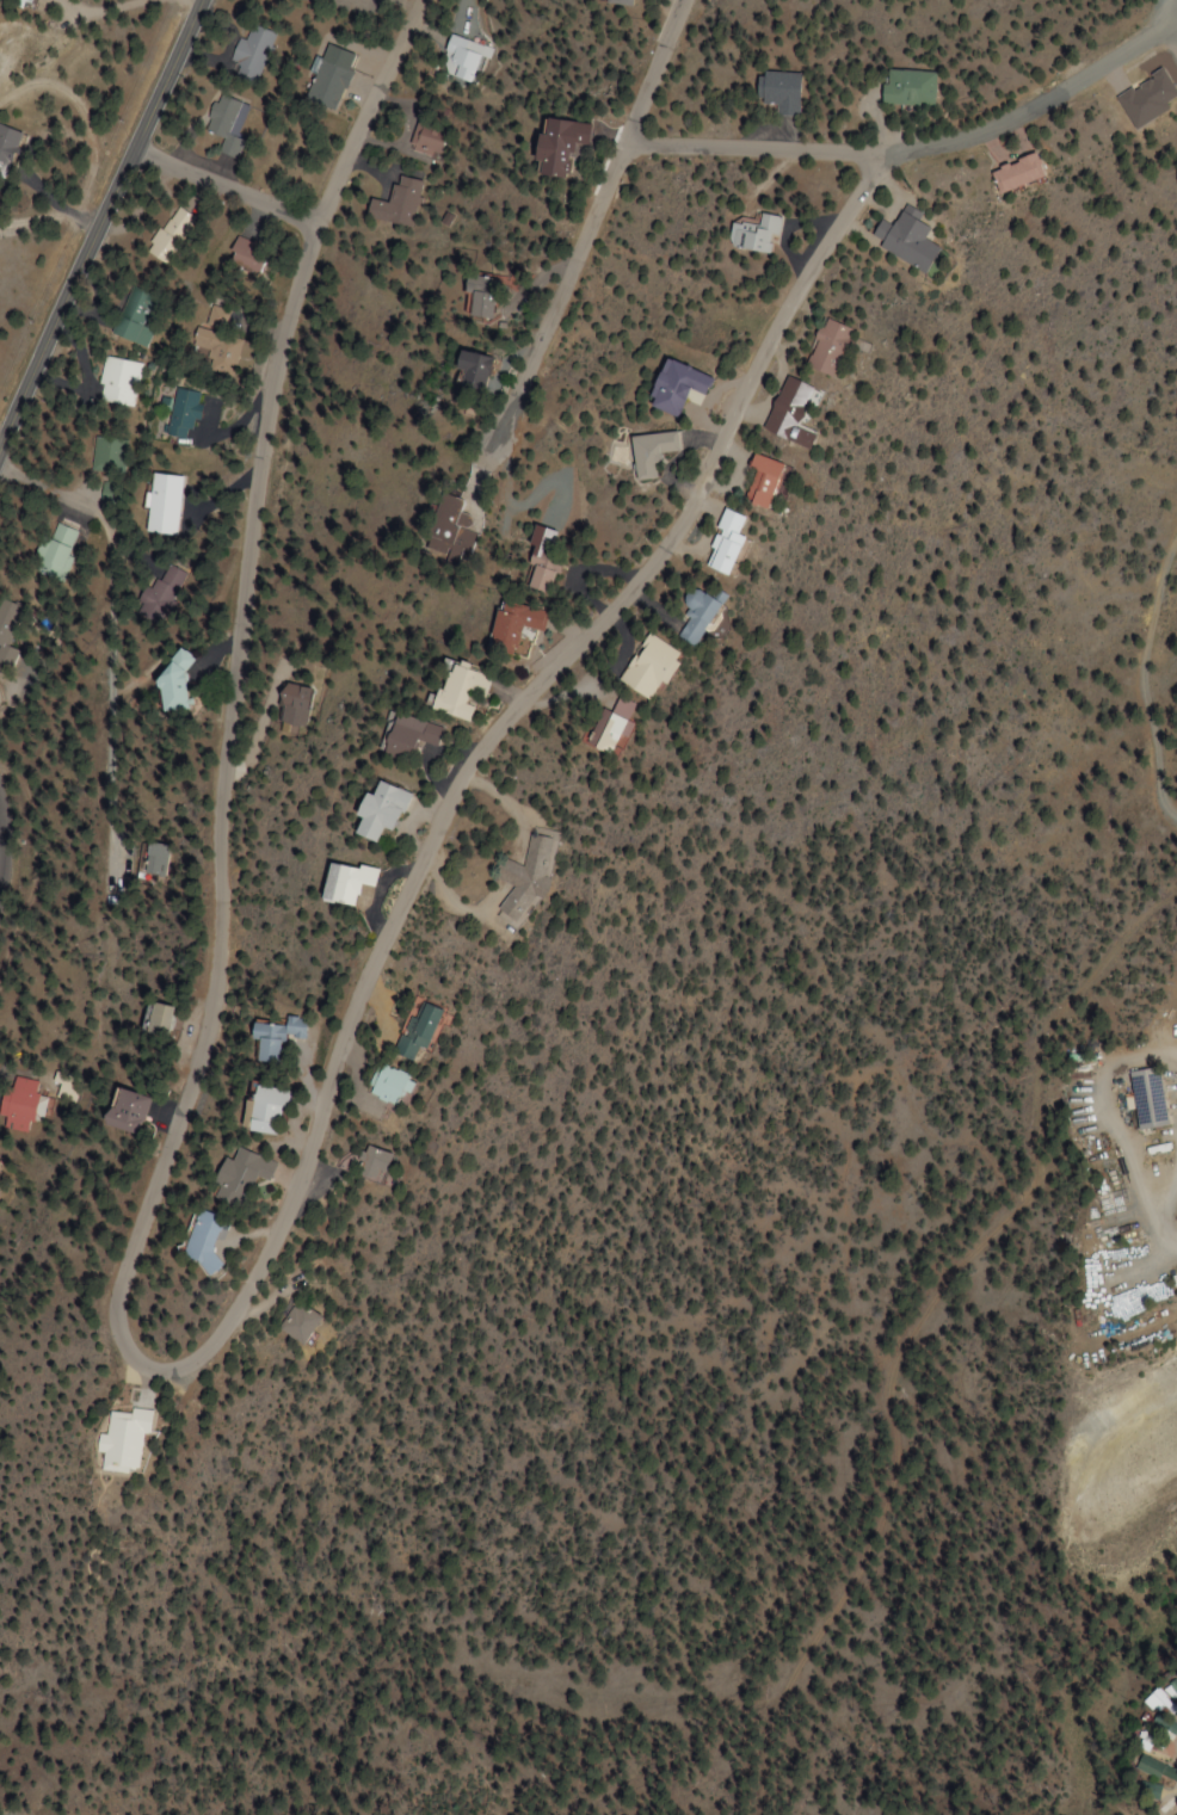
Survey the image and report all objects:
building: (18, 1)
building: (617, 1)
building: (248, 49)
building: (462, 58)
building: (325, 85)
building: (906, 87)
building: (777, 89)
building: (221, 123)
building: (429, 141)
building: (5, 144)
building: (553, 146)
road: (916, 146)
building: (1012, 172)
road: (226, 186)
building: (398, 203)
road: (98, 221)
building: (753, 234)
building: (167, 235)
road: (586, 236)
building: (902, 239)
building: (244, 255)
building: (479, 296)
building: (216, 315)
building: (134, 317)
building: (827, 347)
building: (216, 351)
building: (469, 369)
building: (116, 382)
building: (676, 387)
road: (68, 388)
building: (788, 412)
building: (181, 413)
building: (651, 452)
building: (105, 453)
building: (760, 480)
building: (106, 492)
building: (159, 502)
building: (450, 530)
building: (725, 543)
building: (47, 551)
building: (540, 573)
building: (159, 591)
building: (695, 617)
building: (507, 629)
building: (4, 632)
road: (111, 647)
building: (646, 667)
building: (168, 683)
building: (454, 690)
building: (292, 705)
building: (606, 724)
building: (402, 735)
building: (372, 810)
building: (153, 859)
road: (1, 865)
building: (518, 882)
building: (339, 883)
building: (155, 1021)
building: (408, 1031)
building: (269, 1039)
building: (376, 1094)
building: (1140, 1099)
building: (16, 1103)
building: (259, 1110)
building: (119, 1112)
building: (363, 1165)
building: (233, 1177)
building: (196, 1241)
building: (1129, 1297)
building: (288, 1325)
road: (130, 1395)
building: (122, 1439)
building: (1161, 1699)
building: (1140, 1767)

